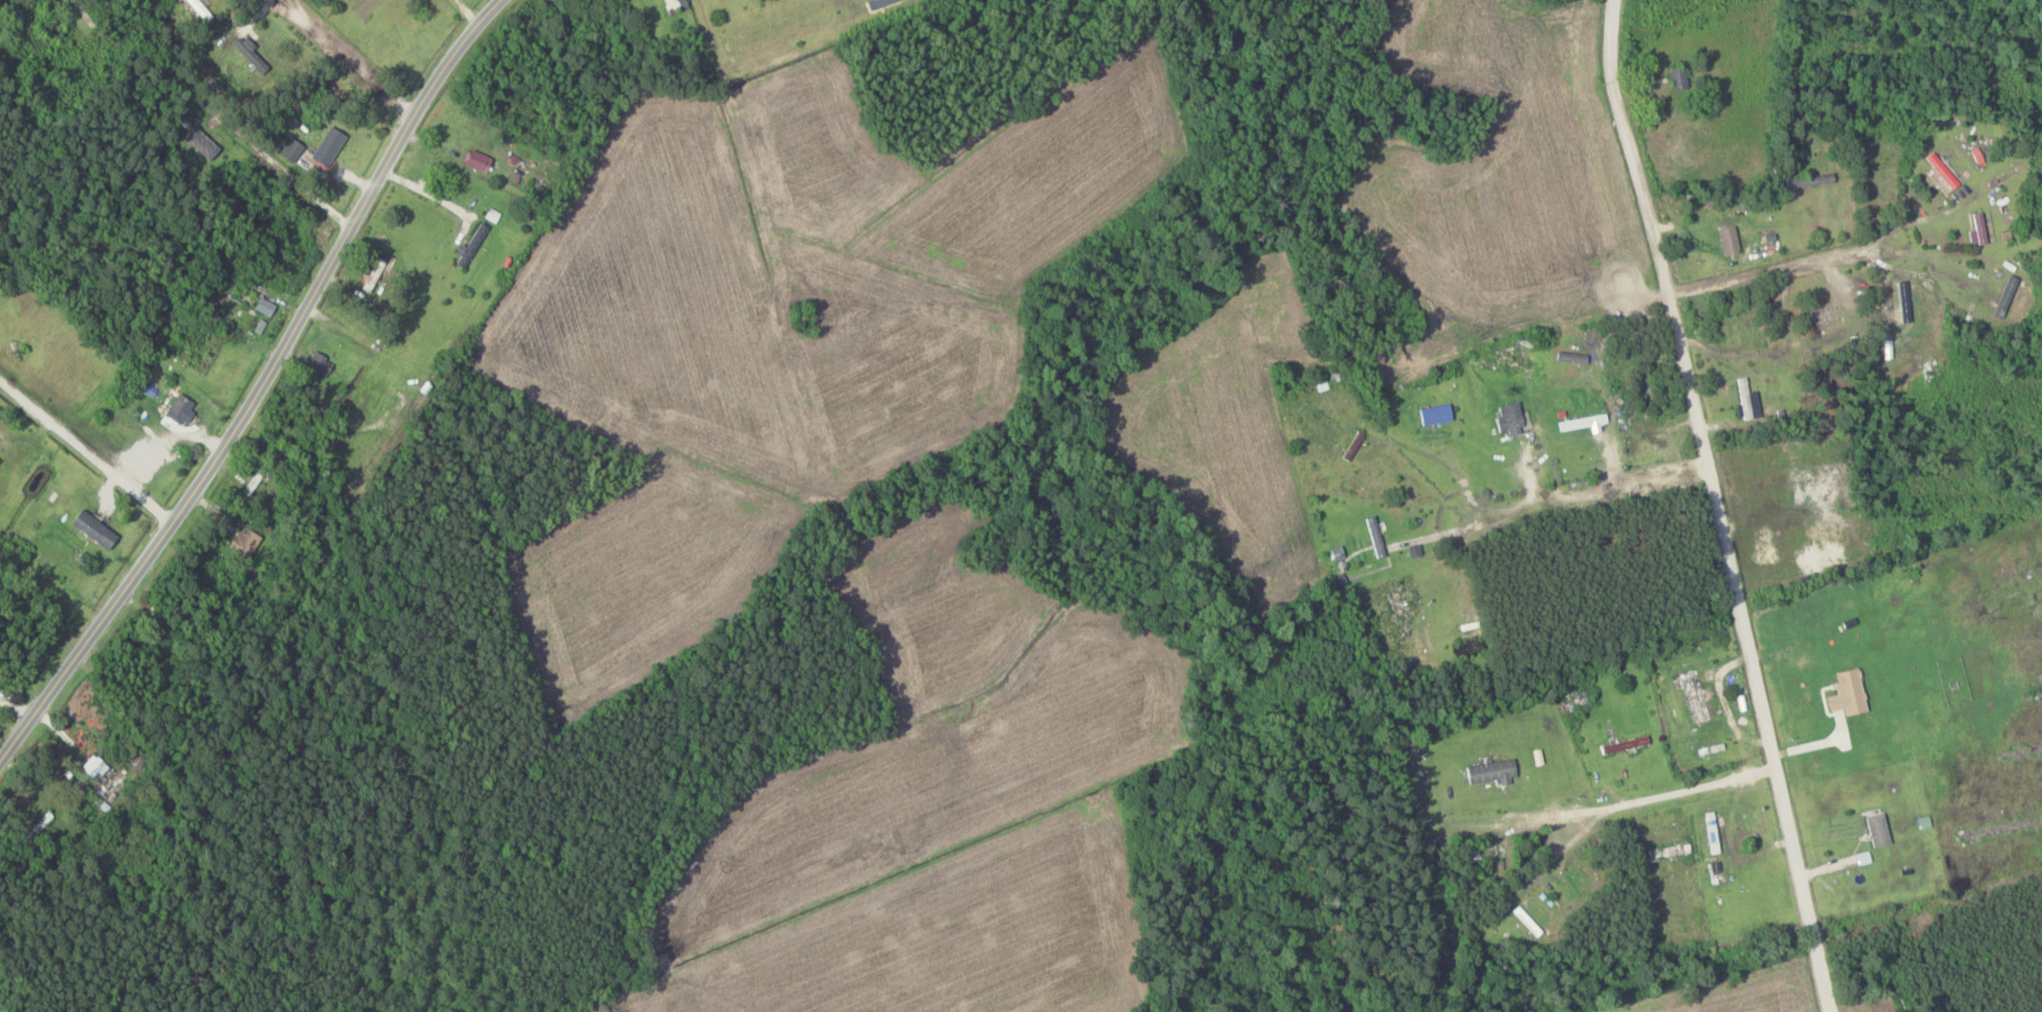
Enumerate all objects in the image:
road: (347, 57)
road: (277, 166)
road: (1829, 247)
road: (259, 386)
road: (86, 452)
road: (1587, 491)
road: (1714, 505)
road: (1641, 801)

